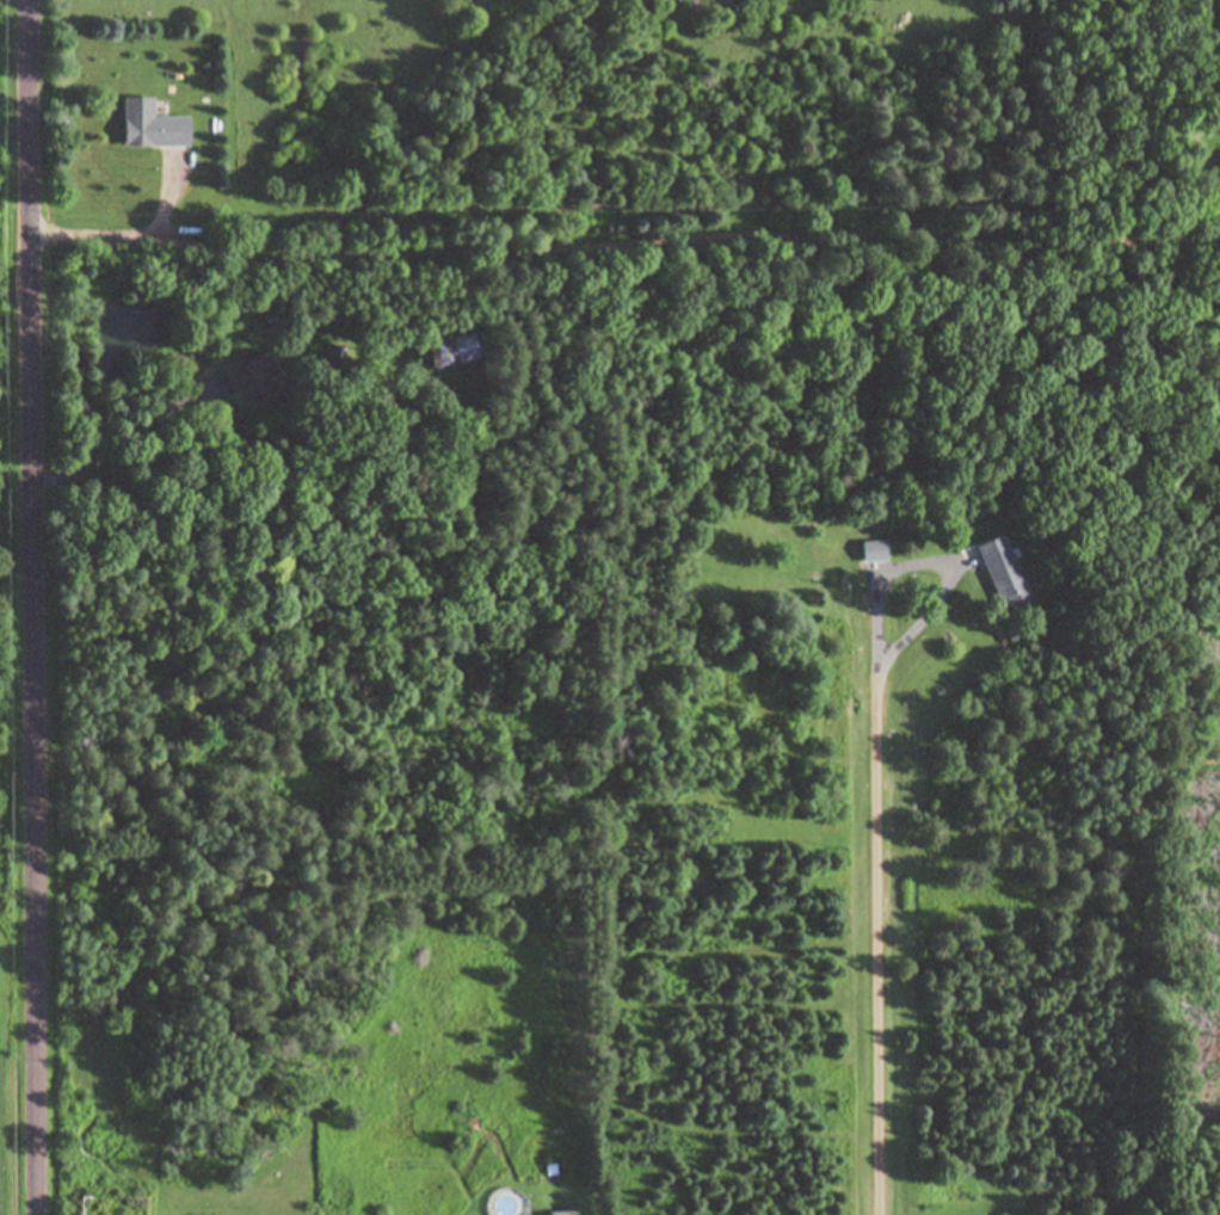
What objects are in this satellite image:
building: (148, 127)
building: (454, 353)
building: (255, 380)
building: (873, 551)
building: (1000, 572)
road: (35, 606)
building: (562, 1214)

